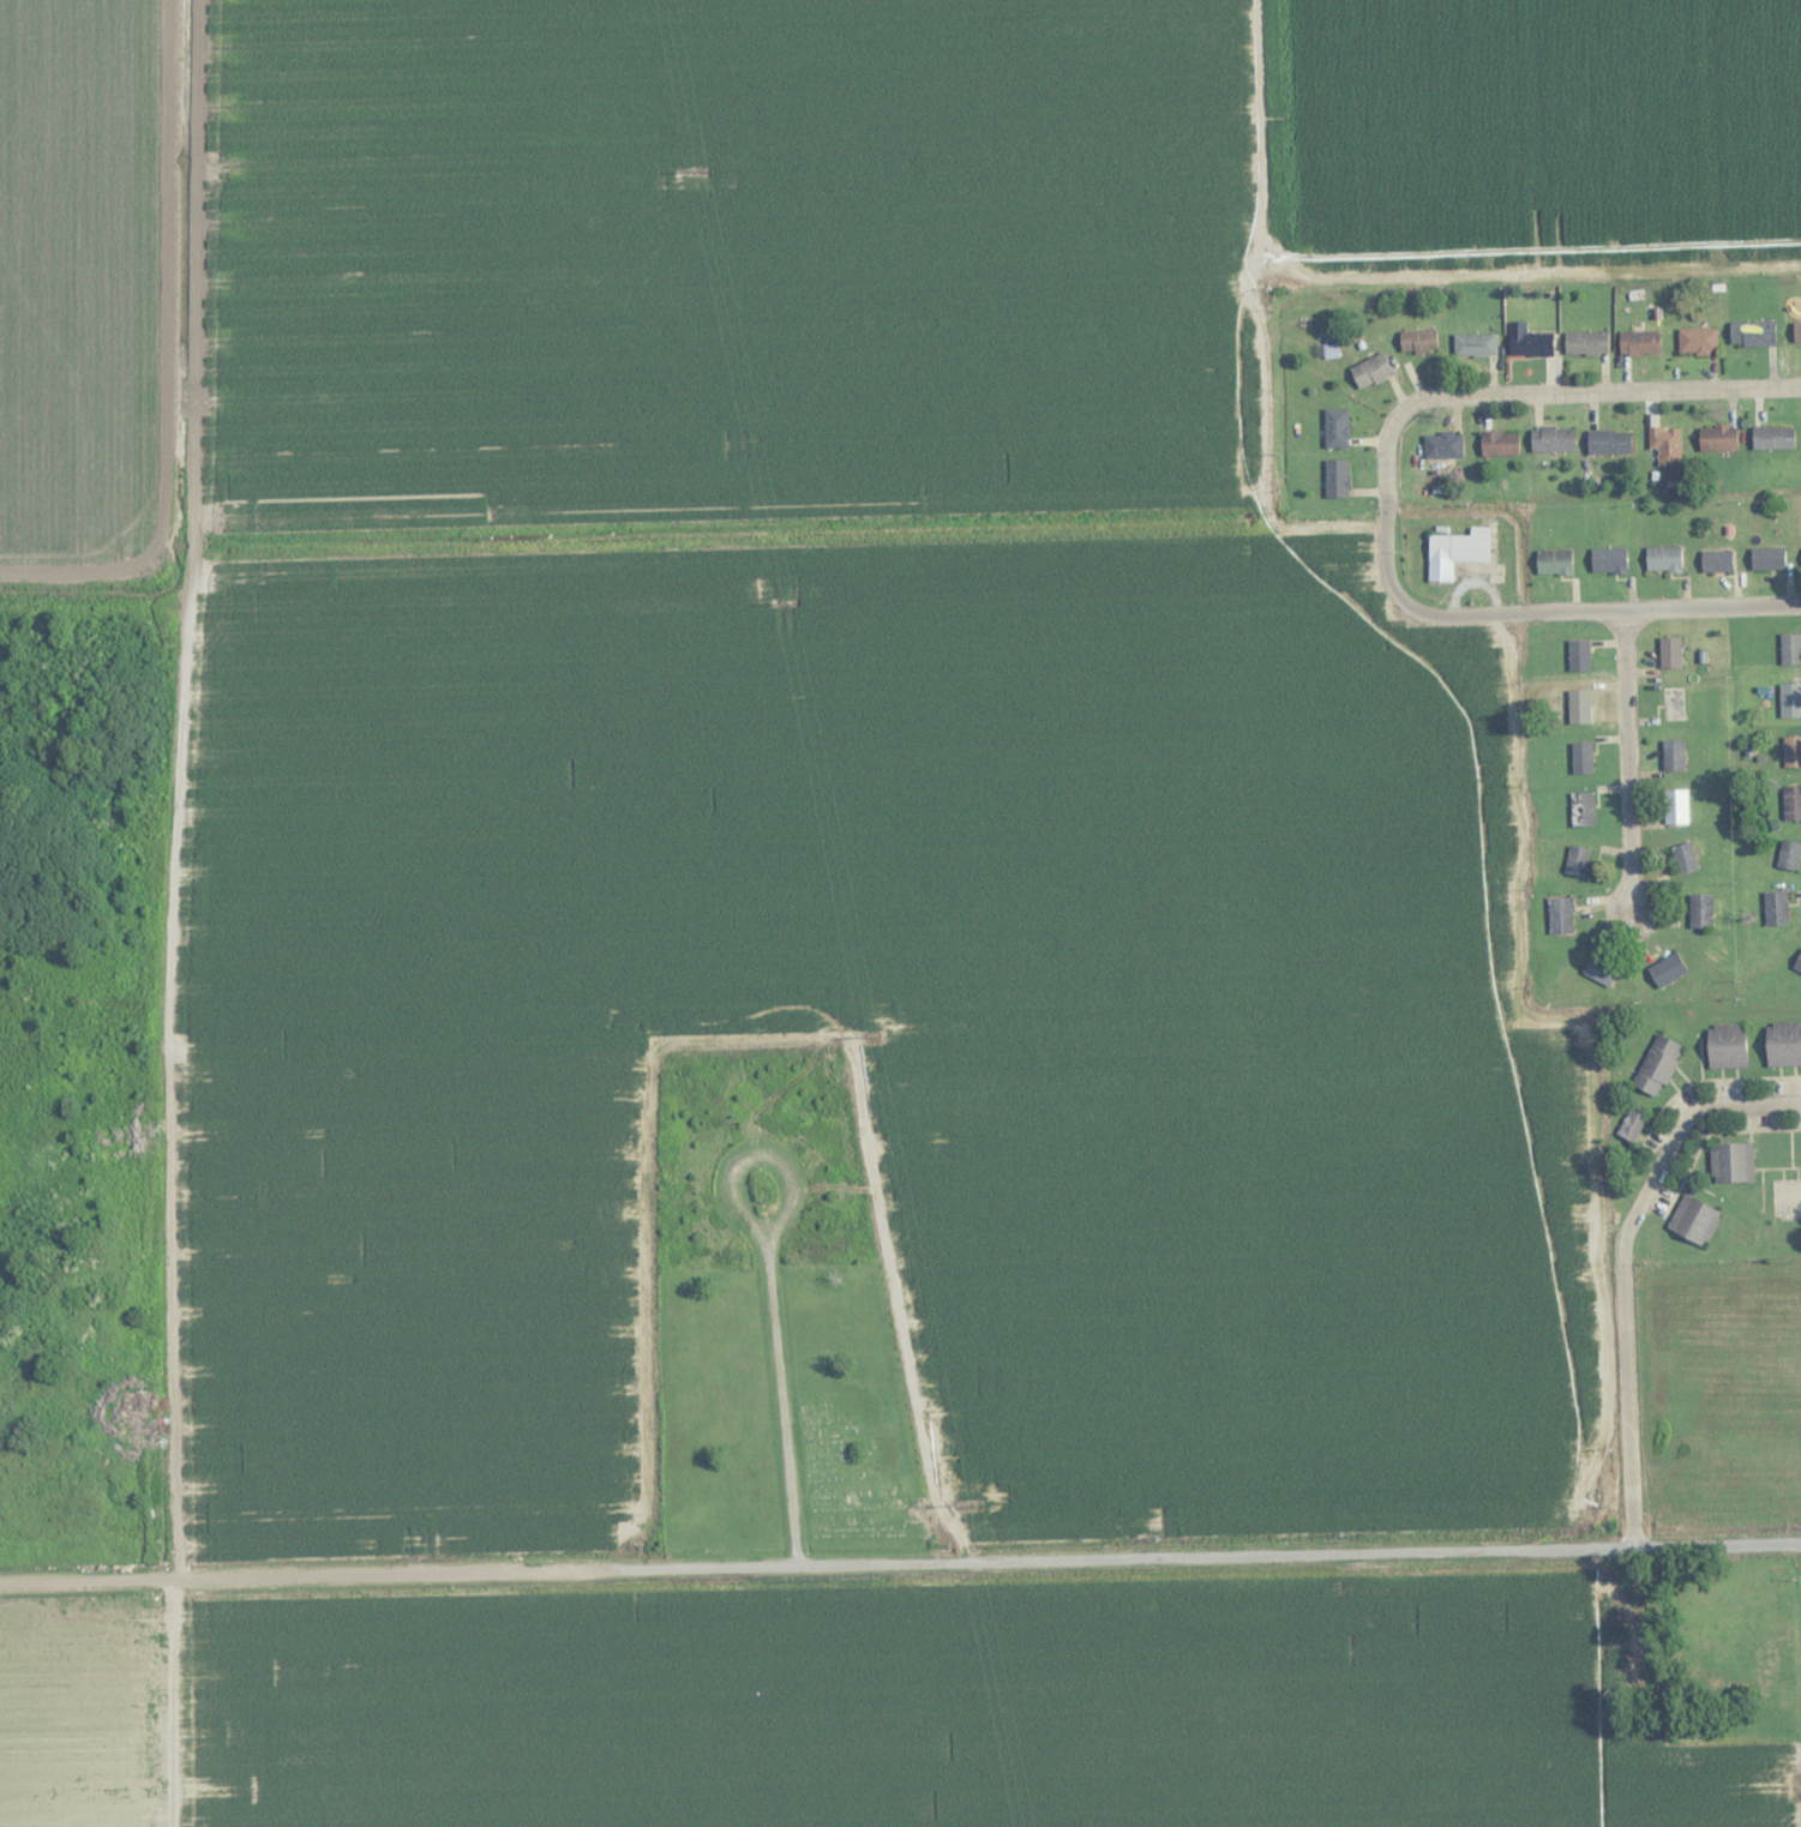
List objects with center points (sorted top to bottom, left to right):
power tower: (700, 168)
building: (1796, 332)
building: (1752, 333)
building: (1417, 341)
building: (1697, 341)
building: (1529, 342)
building: (1586, 343)
building: (1639, 343)
building: (1475, 345)
building: (1370, 372)
road: (1494, 393)
building: (1335, 428)
building: (1772, 438)
building: (1553, 439)
building: (1717, 439)
building: (1609, 441)
building: (1499, 443)
building: (1665, 444)
building: (1442, 445)
building: (1337, 479)
building: (1455, 552)
building: (1663, 558)
building: (1767, 558)
building: (1608, 559)
building: (1716, 560)
building: (1554, 561)
power tower: (785, 600)
road: (1605, 609)
building: (1790, 648)
building: (1670, 651)
building: (1579, 654)
building: (1790, 699)
building: (1579, 705)
building: (1791, 751)
building: (1673, 755)
building: (1581, 757)
road: (1629, 758)
road: (179, 789)
building: (1791, 803)
building: (1676, 806)
building: (1581, 809)
building: (1788, 854)
building: (1685, 857)
building: (1577, 860)
building: (1776, 908)
building: (1700, 911)
building: (1561, 915)
building: (1797, 963)
building: (1597, 968)
building: (1667, 970)
power tower: (870, 1032)
building: (1783, 1044)
building: (1725, 1046)
building: (1657, 1065)
building: (1631, 1125)
road: (738, 1146)
building: (1731, 1162)
building: (1693, 1220)
road: (1625, 1269)
road: (778, 1388)
power tower: (963, 1504)
road: (900, 1565)

